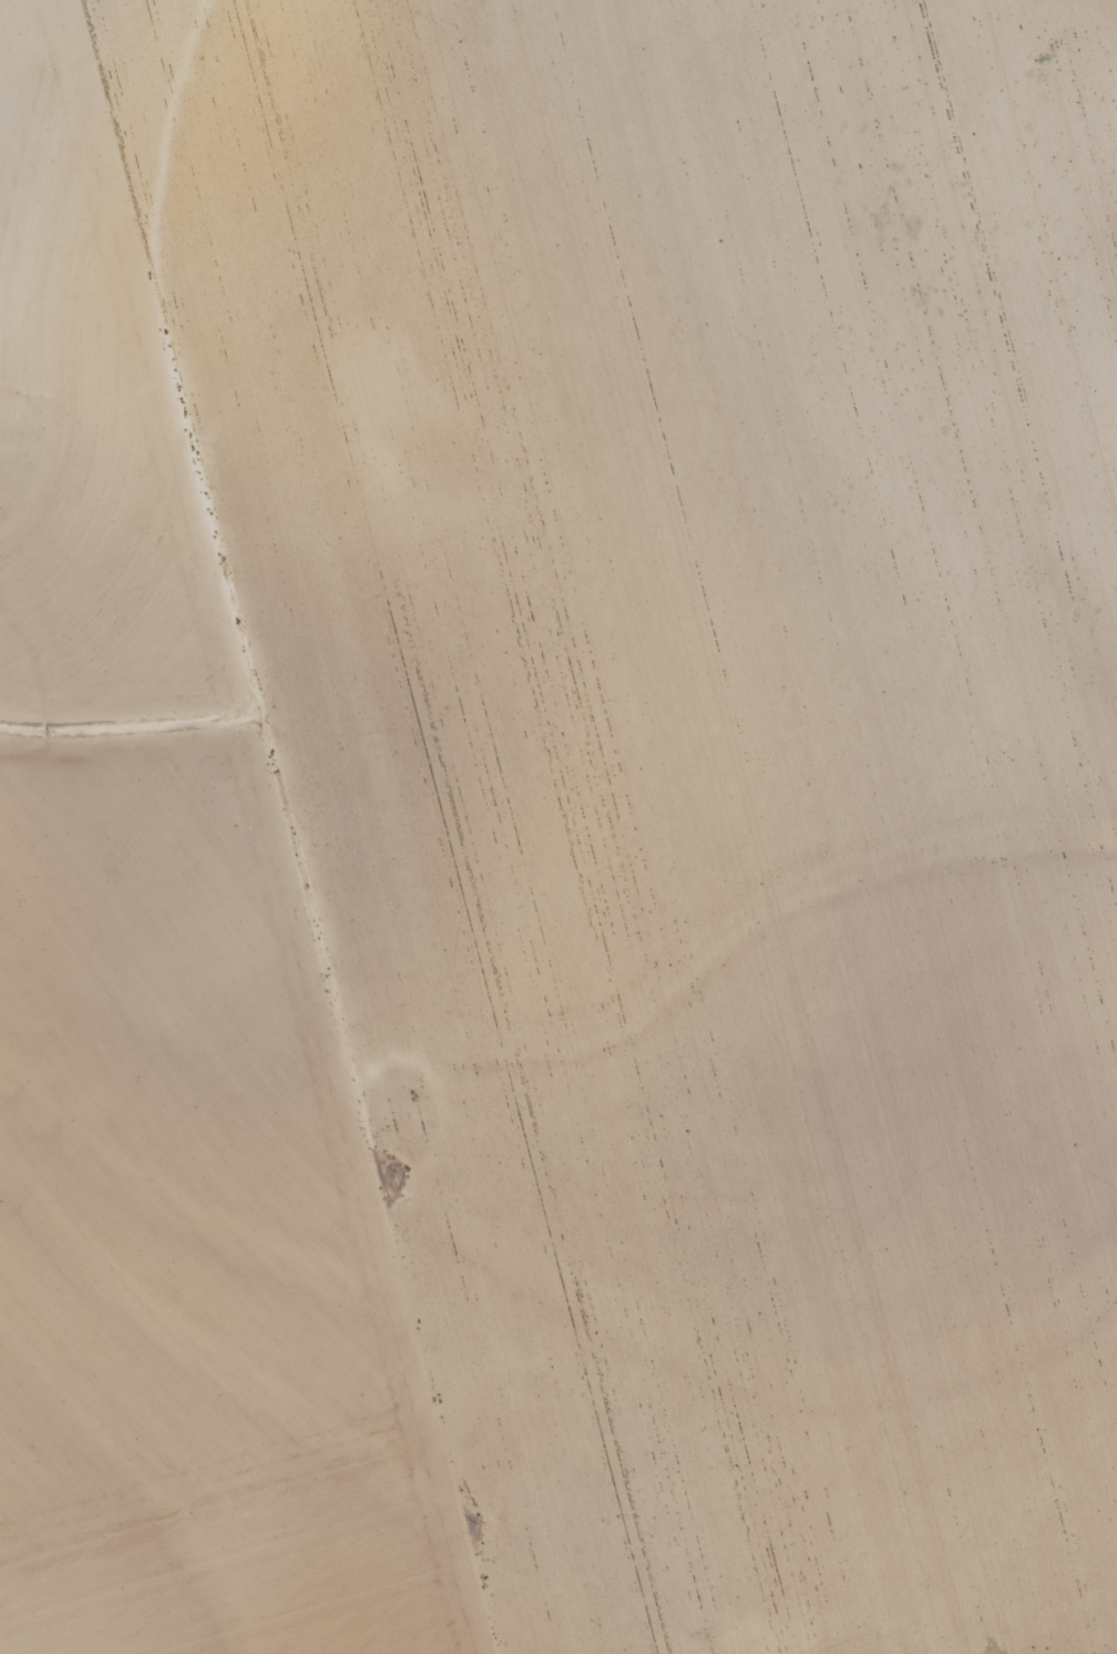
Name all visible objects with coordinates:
building: (1063, 280)

